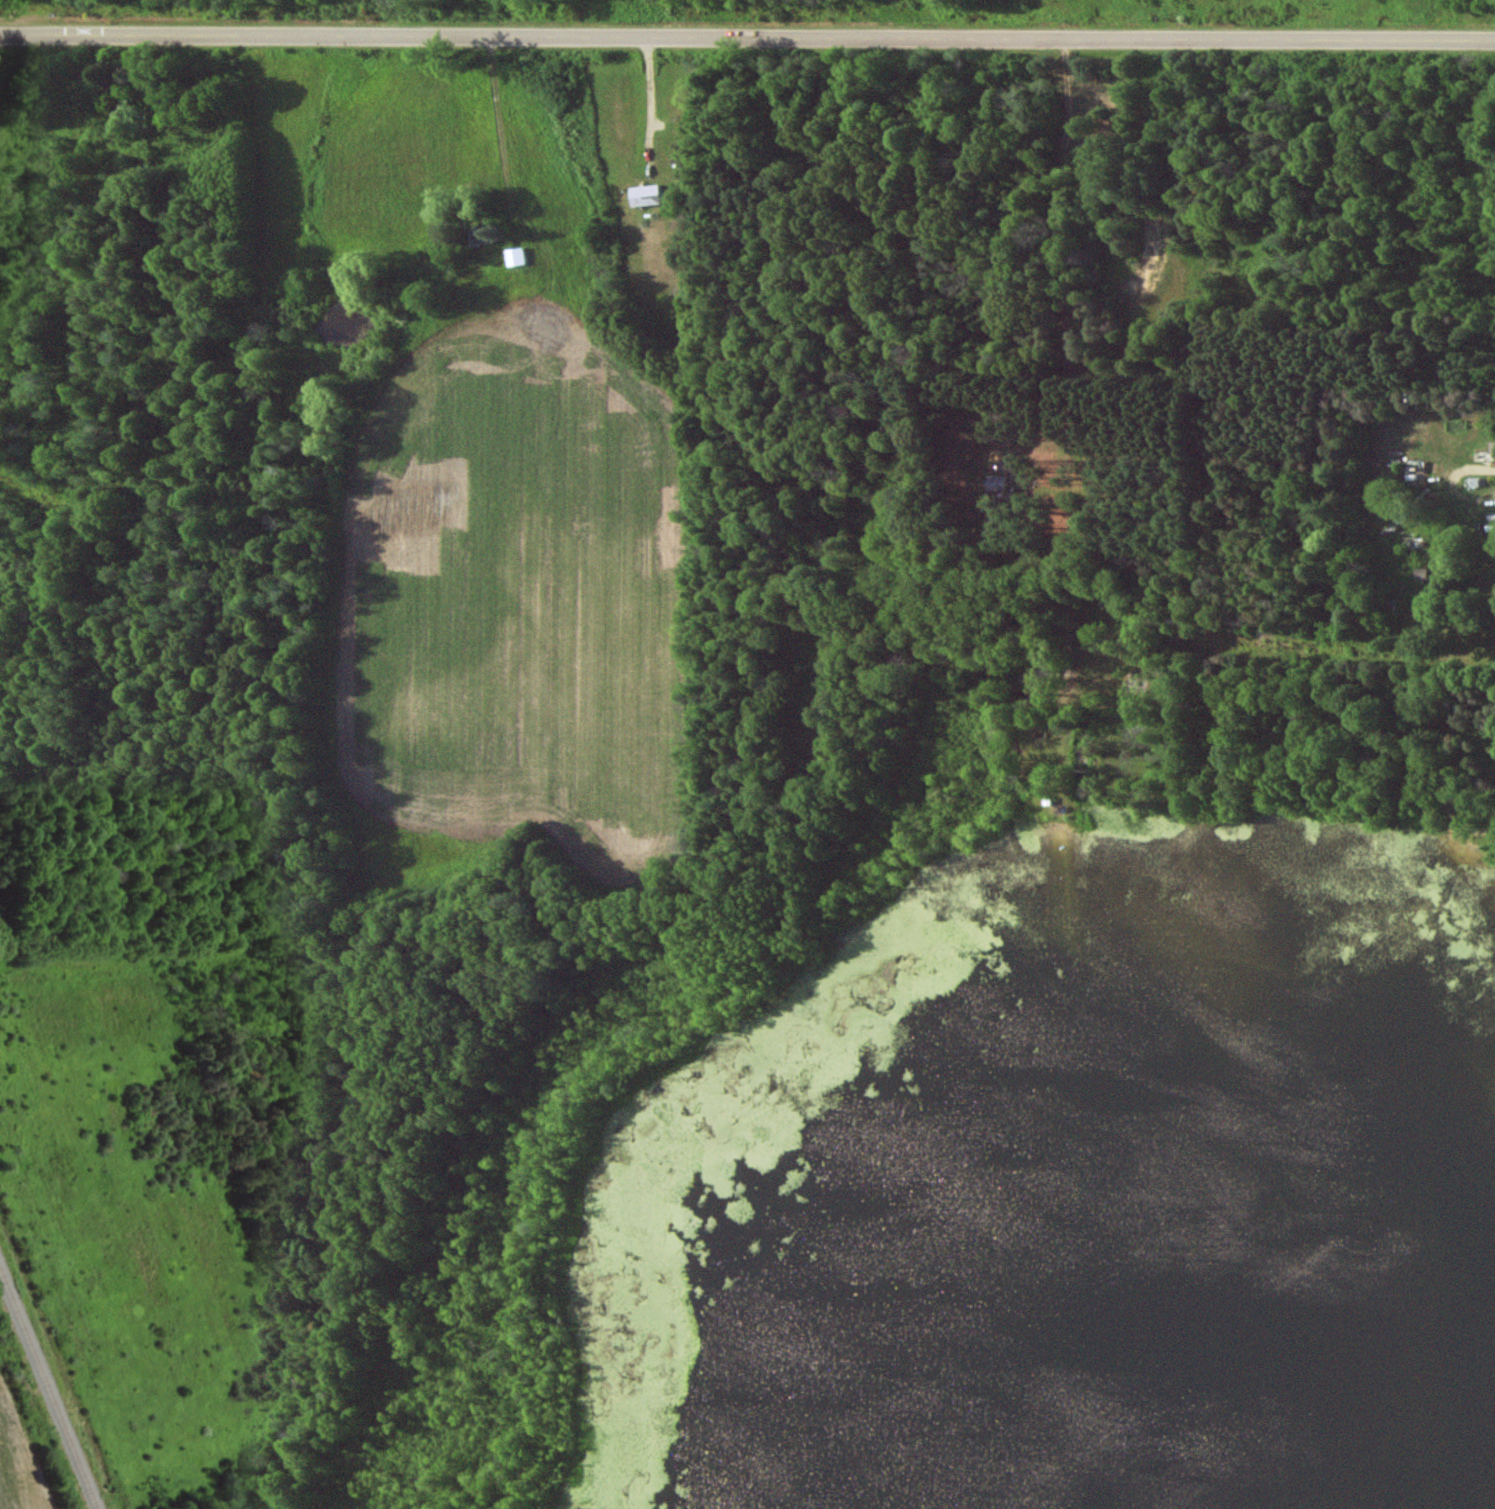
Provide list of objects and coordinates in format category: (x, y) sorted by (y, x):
road: (747, 39)
road: (654, 99)
road: (503, 135)
building: (648, 196)
building: (521, 256)
road: (1064, 385)
building: (997, 482)
railway: (19, 1304)
railway: (70, 1431)

